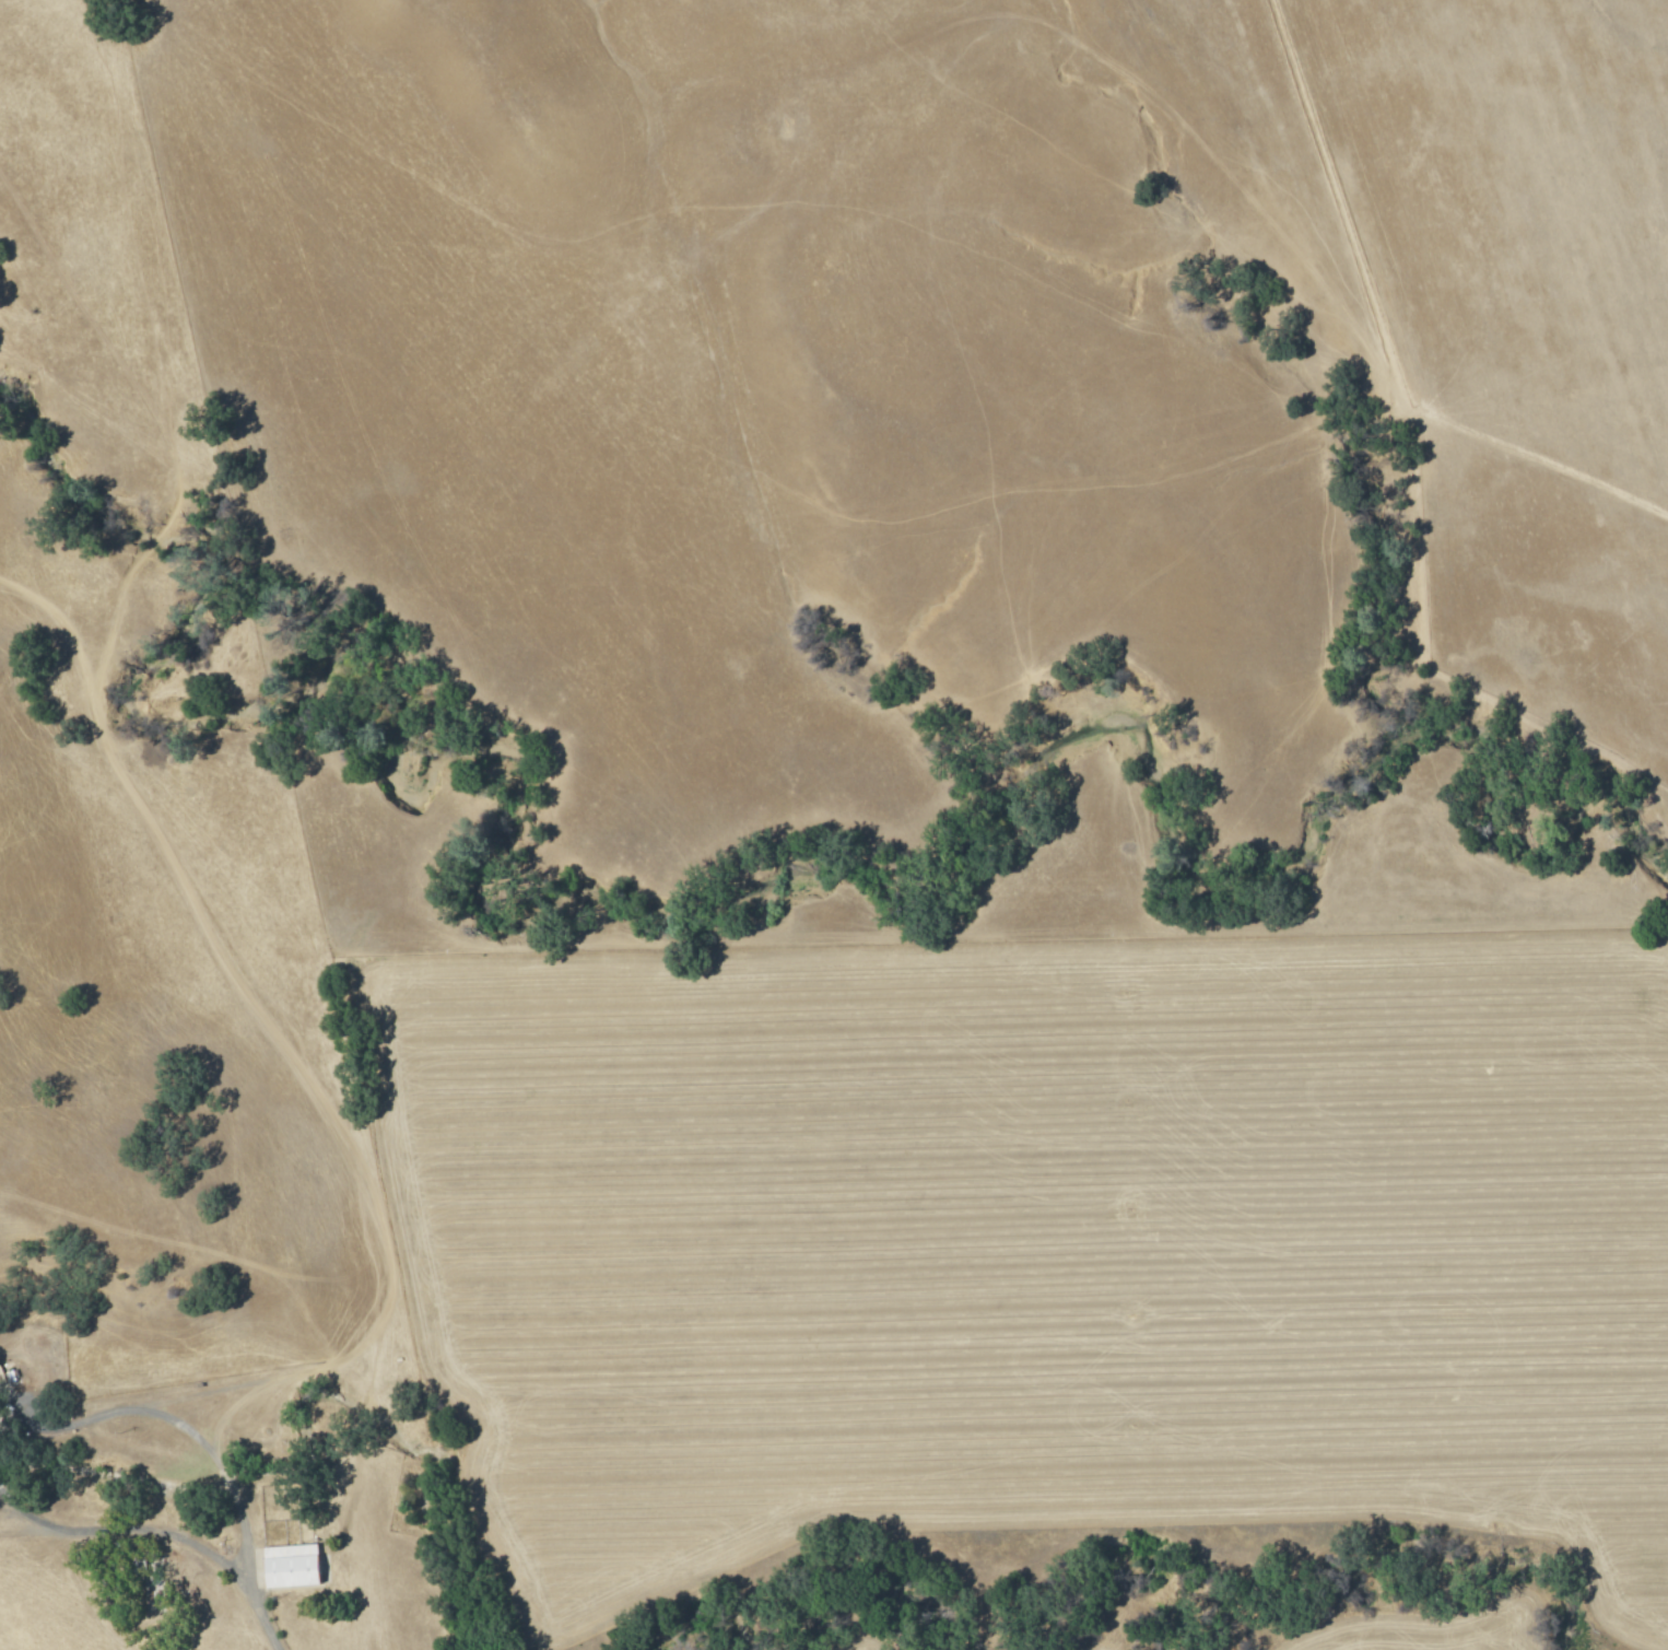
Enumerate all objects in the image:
road: (161, 420)
road: (279, 1034)
road: (136, 1409)
road: (133, 1526)
road: (252, 1555)
building: (290, 1565)

